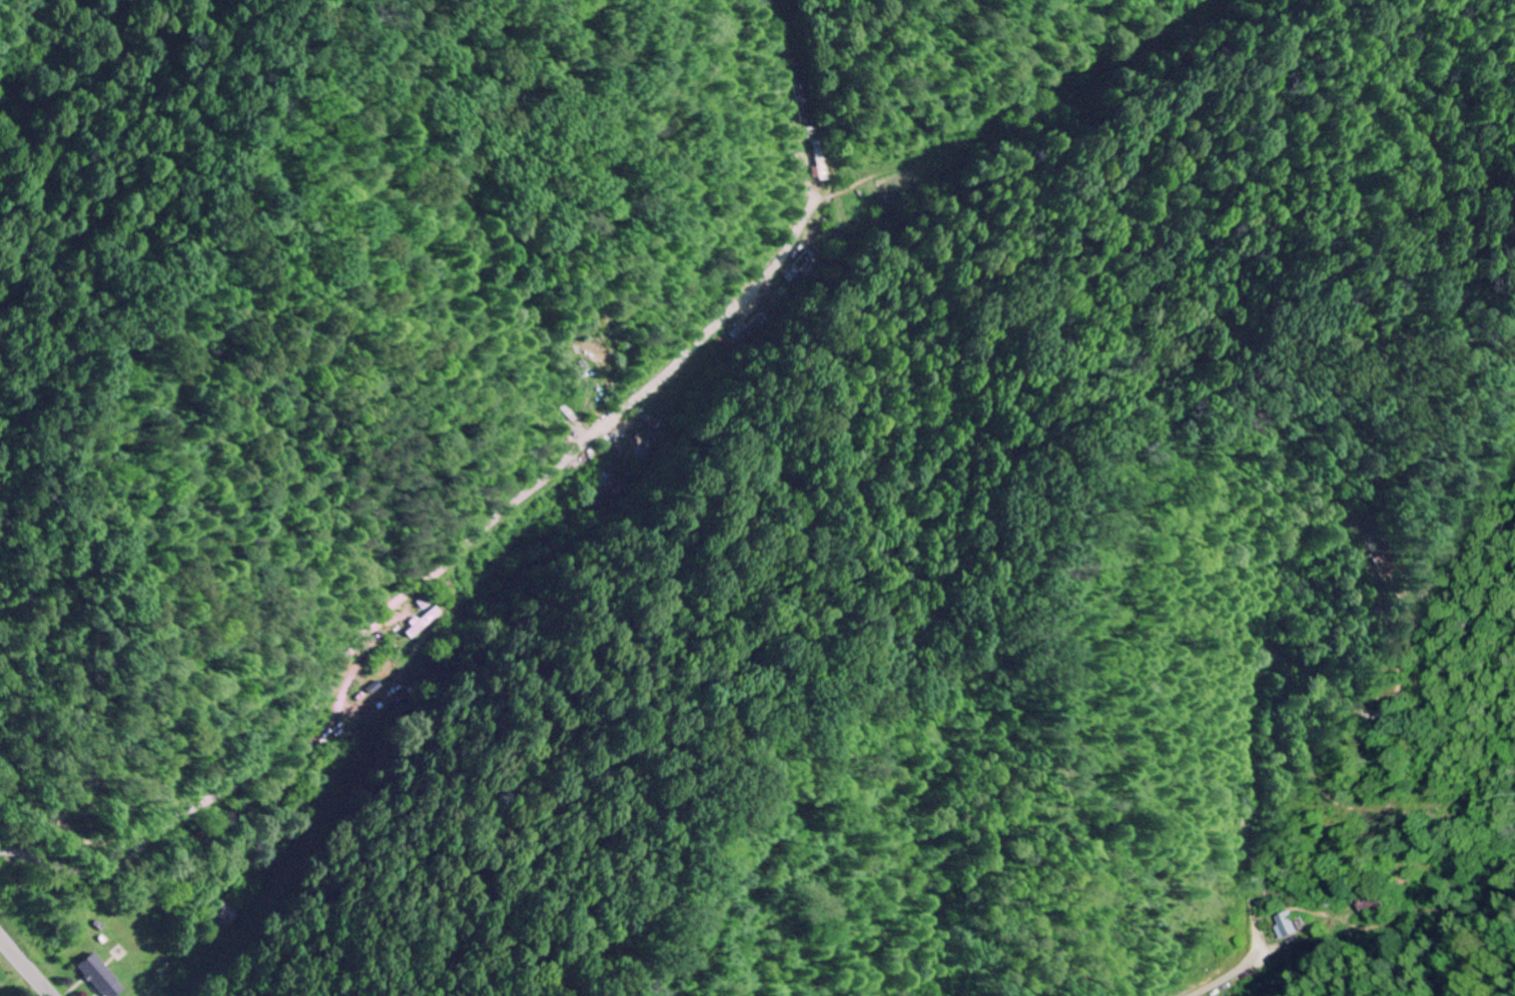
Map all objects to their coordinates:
road: (503, 519)
building: (420, 624)
road: (1247, 737)
building: (224, 914)
building: (1287, 926)
road: (25, 966)
building: (100, 977)

